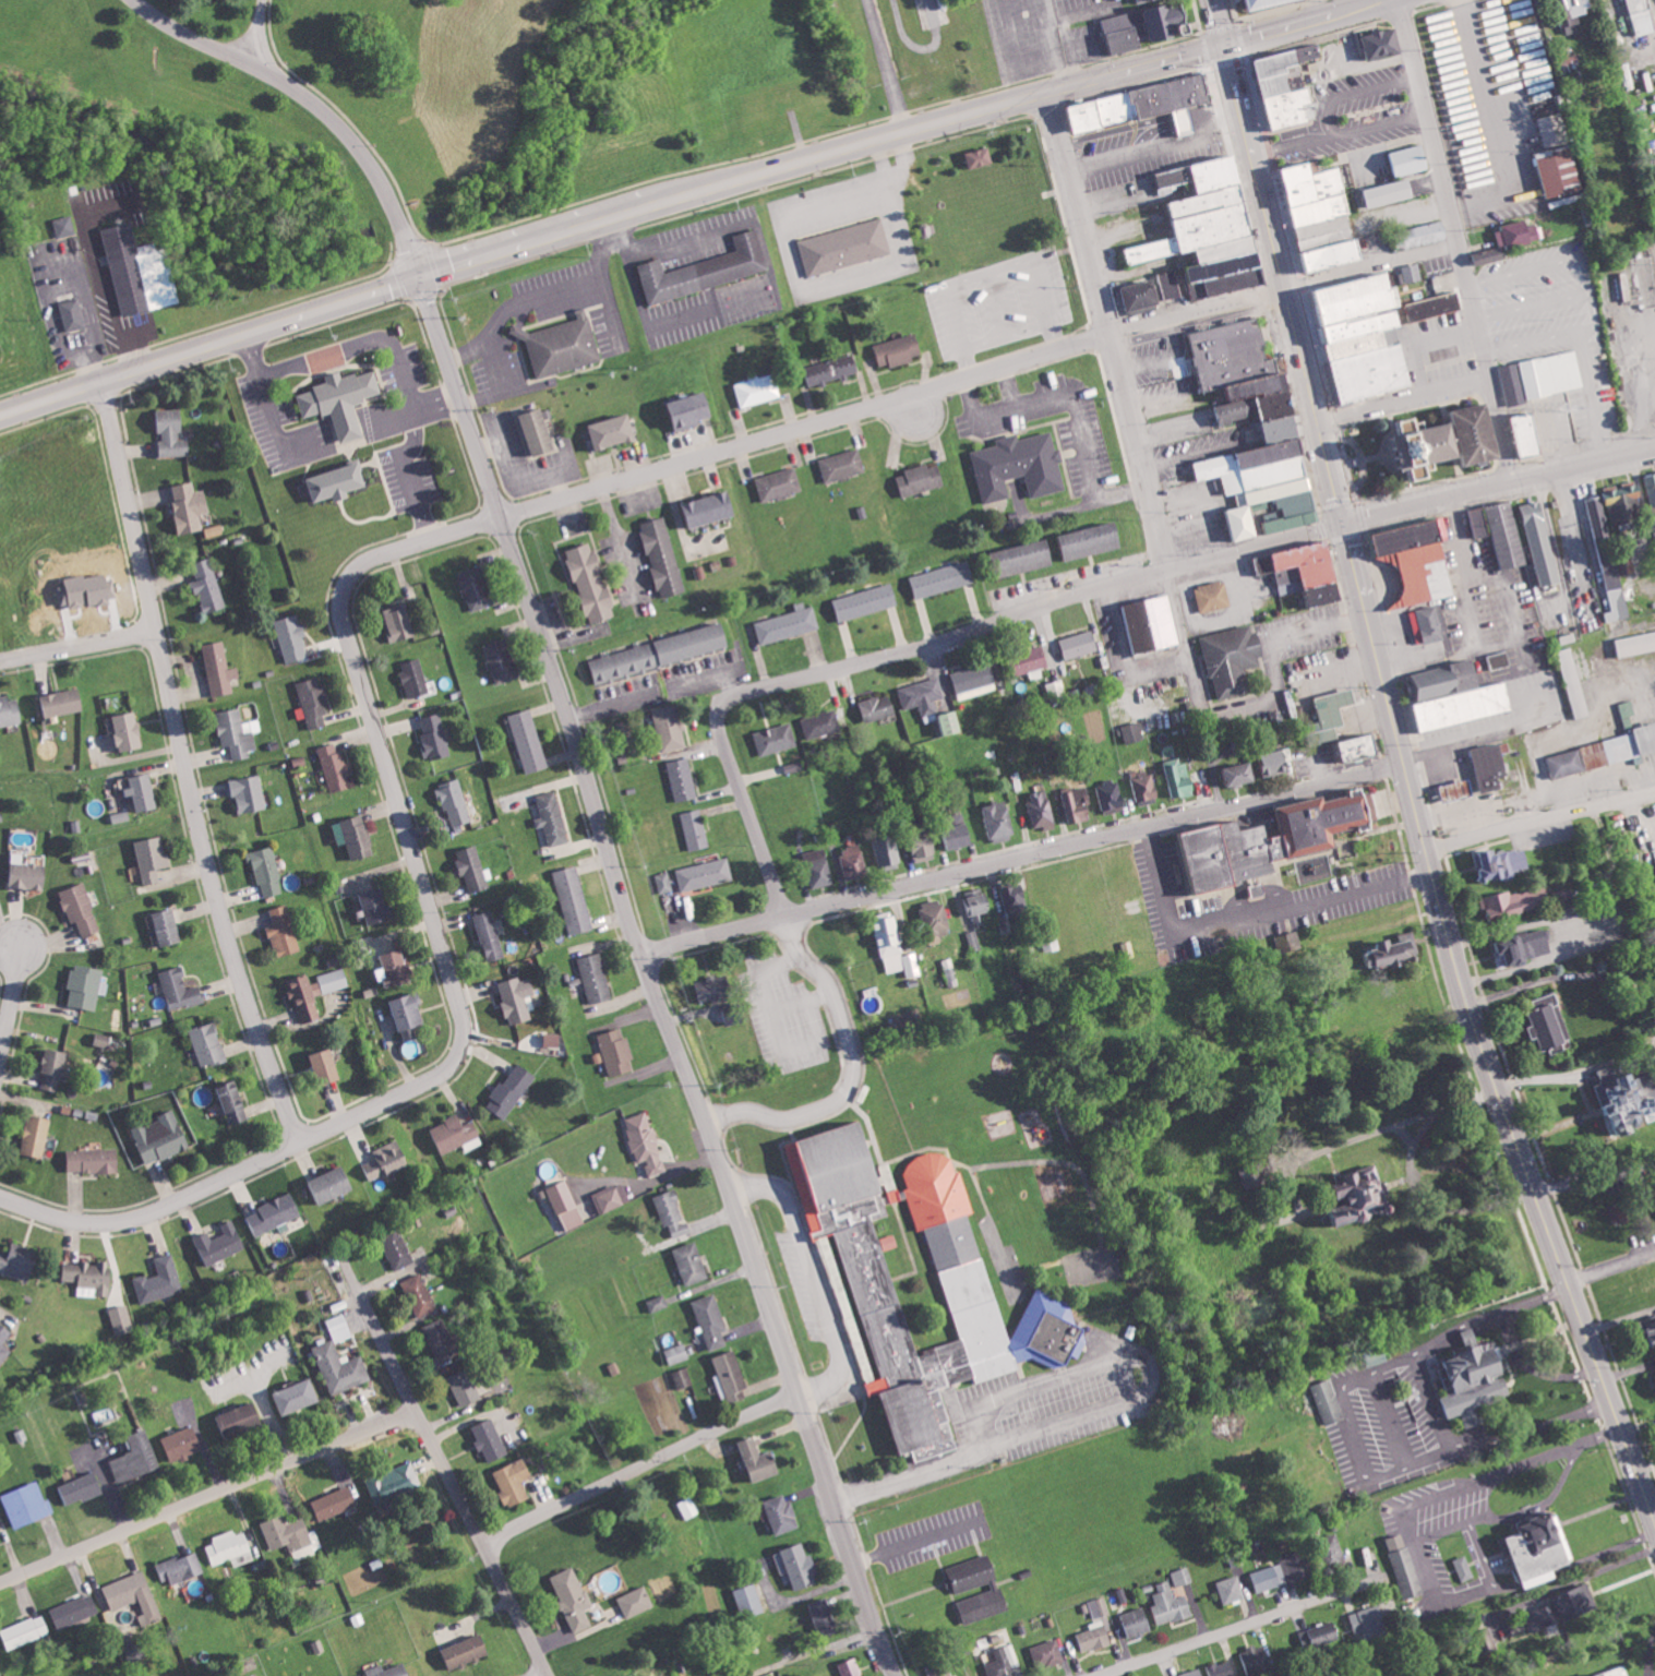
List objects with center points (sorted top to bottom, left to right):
building: (1143, 0)
building: (1270, 3)
building: (1578, 5)
building: (931, 13)
building: (1640, 16)
building: (1168, 22)
road: (1218, 23)
road: (1302, 23)
building: (1128, 31)
road: (259, 33)
building: (1384, 41)
park: (59, 45)
traffic signals: (1224, 46)
building: (1288, 86)
road: (313, 101)
building: (1135, 104)
building: (1180, 121)
building: (1552, 129)
building: (981, 156)
building: (1410, 159)
road: (1254, 167)
building: (1561, 170)
building: (1211, 173)
building: (1293, 173)
building: (1326, 183)
building: (1298, 192)
building: (1390, 192)
building: (1202, 202)
building: (1317, 209)
road: (608, 216)
building: (64, 226)
building: (1208, 227)
building: (1319, 227)
building: (1424, 234)
road: (1456, 239)
building: (1322, 240)
building: (1510, 240)
building: (842, 247)
building: (1158, 249)
building: (1222, 249)
building: (1328, 256)
road: (1370, 266)
road: (1538, 266)
building: (1219, 267)
building: (699, 270)
building: (140, 271)
building: (1412, 272)
building: (1171, 284)
building: (1223, 285)
building: (1143, 294)
parking lot: (997, 301)
building: (1435, 306)
road: (1594, 306)
road: (1196, 311)
building: (72, 314)
road: (1107, 330)
building: (1364, 336)
building: (559, 346)
road: (353, 349)
building: (898, 349)
building: (1227, 352)
building: (831, 369)
building: (1542, 376)
building: (758, 388)
road: (1592, 394)
building: (343, 399)
road: (1402, 399)
building: (691, 409)
road: (1548, 414)
road: (804, 424)
building: (614, 430)
building: (539, 431)
building: (172, 433)
building: (1532, 433)
building: (1440, 439)
road: (314, 444)
building: (842, 464)
building: (1019, 465)
building: (920, 479)
building: (331, 480)
building: (779, 483)
road: (1498, 483)
building: (1652, 487)
building: (1626, 504)
building: (190, 505)
building: (709, 508)
building: (1501, 531)
road: (1576, 537)
building: (1093, 539)
building: (1544, 542)
building: (663, 556)
building: (1026, 556)
building: (1419, 560)
building: (1612, 564)
building: (1307, 571)
building: (943, 578)
building: (592, 583)
building: (208, 587)
building: (478, 587)
building: (1213, 596)
building: (866, 601)
road: (1032, 607)
building: (399, 621)
building: (788, 624)
building: (1151, 624)
building: (1428, 624)
building: (292, 637)
building: (1080, 644)
building: (1638, 644)
road: (77, 645)
building: (661, 653)
building: (1233, 658)
building: (502, 660)
building: (1499, 660)
building: (1032, 661)
building: (219, 668)
building: (415, 678)
building: (975, 680)
building: (1575, 682)
building: (1459, 695)
building: (923, 696)
building: (64, 702)
building: (314, 704)
building: (878, 707)
building: (1629, 709)
building: (10, 710)
building: (1334, 711)
building: (954, 722)
building: (821, 723)
building: (671, 727)
building: (129, 731)
building: (235, 732)
building: (1134, 732)
building: (434, 735)
building: (776, 739)
building: (528, 741)
building: (1358, 747)
building: (1620, 747)
building: (1278, 762)
building: (1568, 763)
road: (182, 764)
building: (1491, 766)
building: (336, 768)
building: (1243, 774)
road: (1214, 776)
building: (1182, 777)
building: (683, 779)
building: (1146, 785)
building: (1459, 790)
building: (144, 792)
building: (1112, 792)
building: (250, 793)
building: (454, 802)
building: (1078, 804)
road: (747, 807)
building: (1042, 809)
building: (552, 817)
road: (1538, 817)
building: (999, 821)
building: (696, 829)
building: (961, 833)
building: (356, 836)
building: (1270, 840)
building: (926, 847)
building: (888, 850)
building: (153, 858)
road: (1021, 858)
building: (854, 861)
building: (1502, 862)
building: (819, 867)
building: (472, 869)
building: (266, 871)
building: (1311, 871)
building: (27, 873)
building: (705, 873)
building: (664, 882)
building: (1566, 894)
building: (574, 900)
building: (1016, 900)
building: (1516, 902)
building: (978, 905)
building: (377, 906)
building: (81, 908)
road: (1443, 913)
road: (1250, 915)
building: (936, 920)
building: (168, 926)
building: (284, 931)
building: (490, 935)
building: (974, 939)
building: (897, 948)
building: (1522, 948)
building: (1400, 950)
building: (395, 968)
building: (950, 971)
road: (449, 975)
building: (595, 978)
road: (650, 979)
building: (334, 980)
road: (13, 985)
building: (86, 986)
building: (180, 987)
building: (716, 989)
building: (304, 998)
building: (517, 998)
building: (409, 1014)
building: (734, 1014)
building: (1552, 1027)
building: (104, 1039)
building: (553, 1039)
building: (209, 1044)
building: (616, 1052)
building: (327, 1066)
building: (53, 1068)
road: (852, 1070)
building: (512, 1089)
building: (1627, 1100)
building: (235, 1102)
building: (457, 1134)
building: (36, 1136)
building: (161, 1137)
building: (645, 1142)
building: (94, 1160)
building: (387, 1160)
road: (1594, 1174)
building: (1255, 1176)
building: (333, 1185)
building: (898, 1195)
building: (613, 1197)
building: (1366, 1197)
building: (564, 1204)
building: (673, 1214)
building: (221, 1243)
building: (398, 1249)
building: (20, 1261)
building: (692, 1262)
road: (1610, 1267)
road: (813, 1272)
building: (91, 1277)
building: (160, 1280)
building: (419, 1294)
building: (969, 1295)
building: (658, 1303)
building: (122, 1319)
building: (712, 1320)
building: (339, 1328)
building: (1652, 1328)
building: (1051, 1331)
building: (1472, 1336)
building: (442, 1340)
building: (4, 1342)
building: (677, 1353)
building: (341, 1368)
building: (731, 1377)
building: (682, 1378)
building: (1476, 1381)
building: (465, 1388)
building: (298, 1397)
building: (1328, 1402)
road: (1104, 1409)
building: (241, 1420)
building: (490, 1440)
building: (182, 1444)
building: (136, 1459)
building: (759, 1460)
road: (640, 1466)
building: (396, 1482)
building: (513, 1482)
road: (455, 1484)
building: (80, 1488)
road: (209, 1498)
building: (335, 1503)
building: (27, 1505)
building: (689, 1507)
building: (782, 1513)
building: (1, 1529)
building: (290, 1535)
building: (228, 1546)
building: (1540, 1551)
building: (1403, 1566)
building: (801, 1567)
building: (181, 1568)
building: (1463, 1568)
building: (1282, 1571)
building: (973, 1572)
building: (1182, 1576)
building: (1231, 1590)
building: (134, 1596)
building: (573, 1597)
building: (749, 1601)
building: (636, 1602)
building: (983, 1605)
building: (1171, 1605)
building: (1100, 1607)
building: (1563, 1608)
building: (74, 1611)
building: (824, 1617)
building: (357, 1619)
building: (1138, 1621)
building: (1370, 1621)
road: (1243, 1627)
building: (24, 1631)
building: (1321, 1636)
building: (1095, 1638)
building: (134, 1650)
building: (467, 1651)
building: (1048, 1653)
building: (1257, 1660)
building: (1004, 1662)
building: (850, 1667)
building: (940, 1669)
building: (389, 1671)
building: (1618, 1672)
building: (1195, 1673)
road: (542, 1674)

